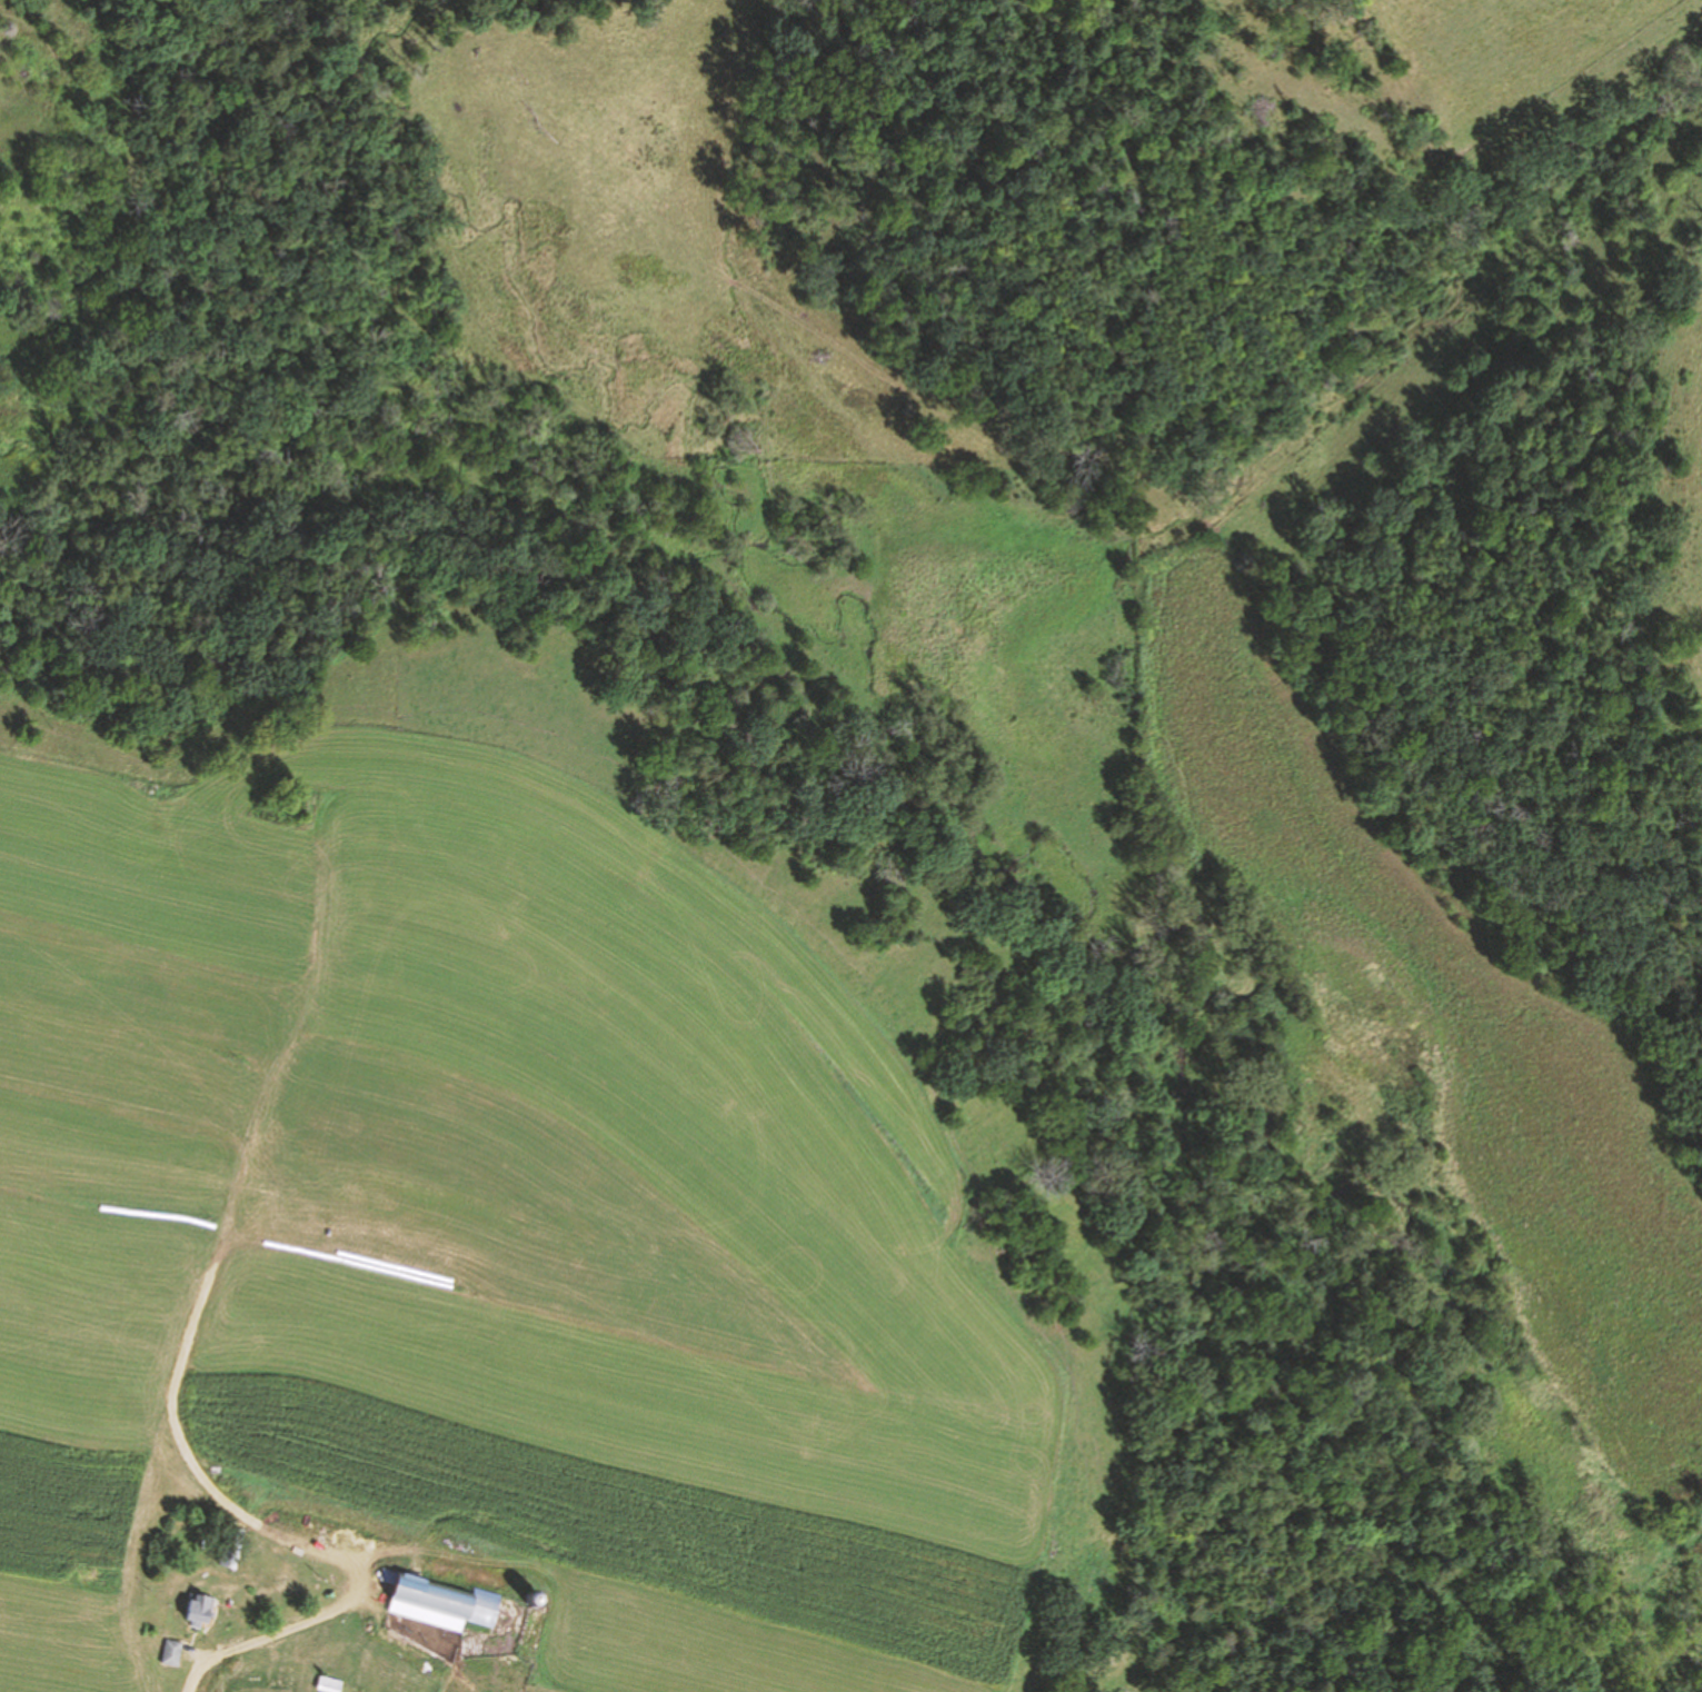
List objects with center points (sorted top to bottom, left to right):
building: (232, 1549)
building: (445, 1599)
building: (199, 1609)
road: (229, 1631)
building: (172, 1652)
road: (195, 1666)
building: (414, 1676)
building: (329, 1684)

